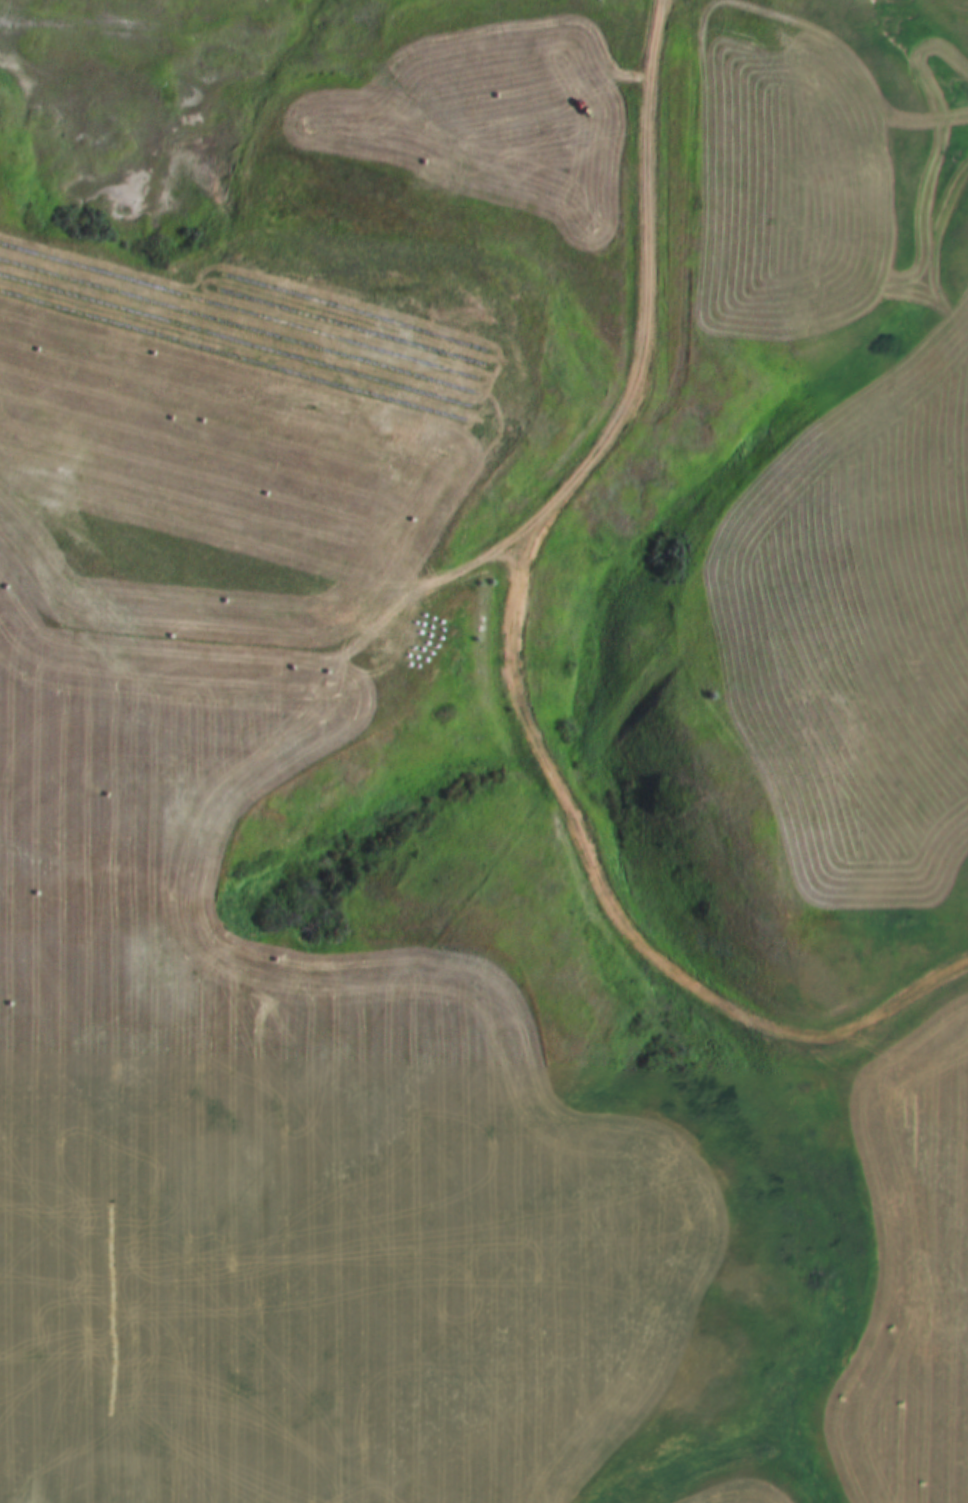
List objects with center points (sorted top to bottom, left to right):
quarry: (242, 440)
road: (508, 664)

